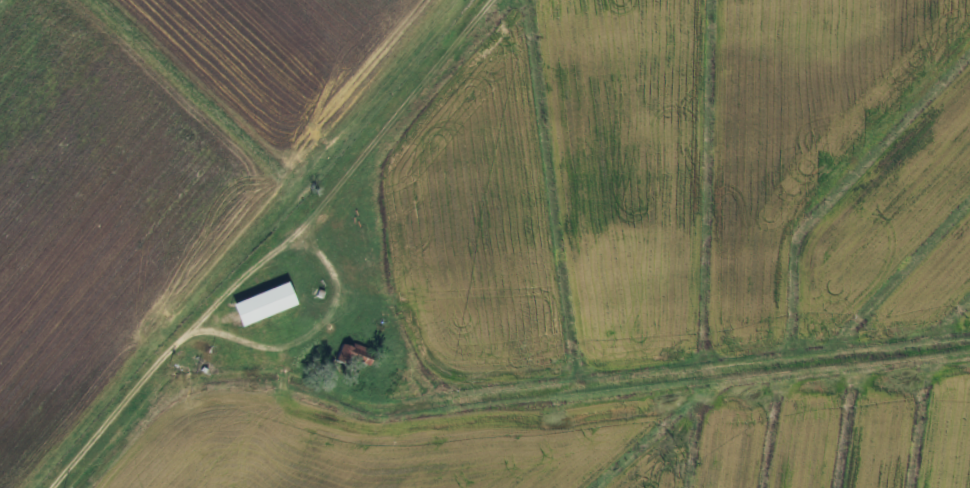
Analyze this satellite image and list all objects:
building: (264, 305)
airport runway: (811, 330)

